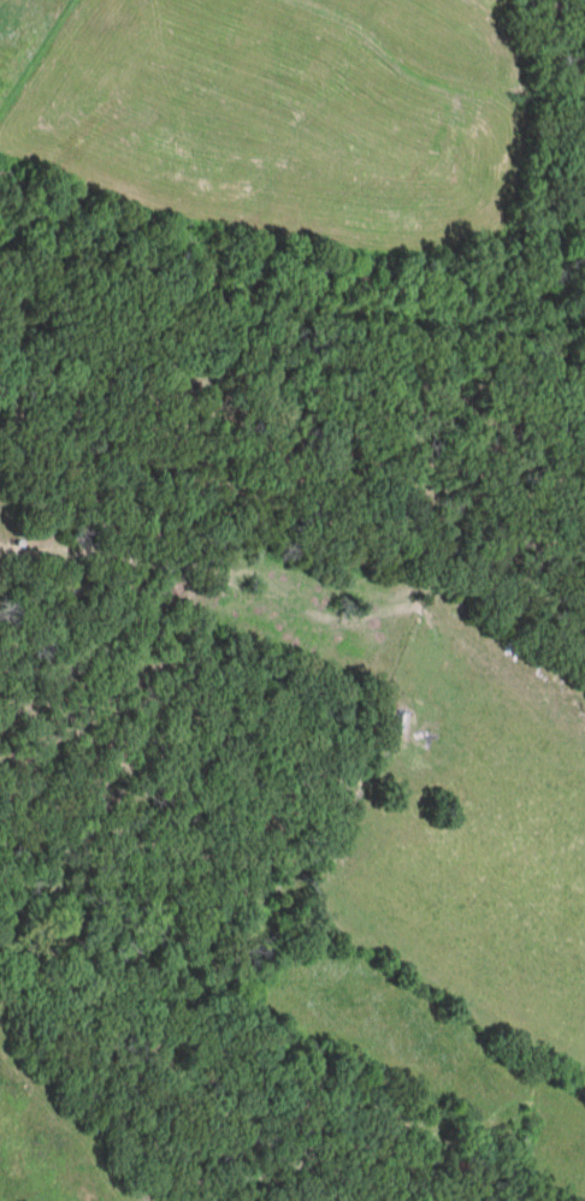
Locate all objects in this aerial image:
building: (460, 637)
building: (496, 665)

